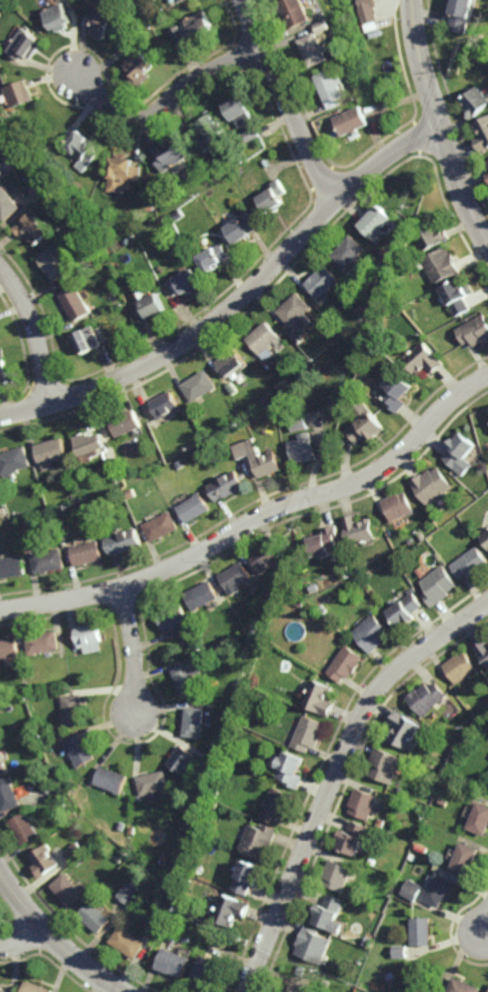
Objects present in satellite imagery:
building: (177, 1)
building: (367, 4)
building: (294, 11)
building: (462, 14)
building: (58, 16)
building: (163, 16)
building: (104, 20)
building: (200, 23)
building: (323, 25)
building: (179, 34)
building: (4, 37)
building: (22, 43)
building: (128, 44)
building: (480, 47)
building: (314, 48)
building: (353, 59)
building: (139, 68)
building: (330, 87)
building: (18, 93)
road: (288, 101)
building: (476, 101)
road: (166, 103)
building: (239, 109)
building: (351, 120)
road: (442, 124)
building: (2, 130)
building: (209, 131)
building: (482, 134)
building: (250, 135)
building: (81, 149)
building: (171, 156)
building: (487, 160)
building: (122, 173)
building: (487, 176)
building: (37, 182)
building: (273, 196)
building: (7, 203)
building: (149, 205)
building: (376, 222)
building: (243, 227)
building: (33, 228)
building: (431, 236)
building: (349, 252)
building: (399, 252)
building: (215, 257)
building: (55, 264)
building: (440, 265)
building: (110, 272)
building: (322, 281)
building: (125, 282)
building: (185, 283)
building: (141, 294)
building: (455, 297)
road: (240, 301)
building: (75, 303)
building: (150, 308)
building: (297, 316)
road: (37, 330)
building: (474, 331)
building: (88, 340)
building: (265, 341)
building: (422, 359)
building: (304, 361)
building: (232, 363)
building: (3, 369)
building: (360, 384)
building: (200, 386)
building: (395, 393)
building: (267, 403)
building: (166, 405)
building: (473, 415)
building: (127, 423)
building: (300, 423)
building: (364, 424)
building: (90, 444)
building: (304, 449)
building: (460, 453)
building: (51, 454)
building: (261, 459)
building: (15, 463)
building: (182, 464)
building: (114, 467)
building: (433, 486)
building: (37, 487)
building: (228, 487)
building: (133, 495)
building: (399, 507)
building: (58, 508)
building: (195, 509)
building: (3, 513)
road: (258, 519)
building: (163, 528)
building: (359, 531)
building: (66, 535)
building: (421, 535)
building: (486, 537)
building: (327, 542)
building: (125, 543)
building: (88, 555)
building: (269, 557)
building: (50, 562)
building: (470, 563)
building: (12, 569)
building: (238, 574)
building: (438, 585)
building: (316, 586)
building: (204, 593)
building: (321, 597)
building: (302, 601)
building: (324, 608)
building: (406, 610)
building: (174, 615)
building: (238, 632)
building: (372, 633)
building: (90, 639)
building: (46, 640)
building: (257, 640)
building: (10, 646)
road: (137, 649)
building: (483, 649)
building: (26, 663)
building: (347, 663)
building: (77, 667)
building: (462, 667)
building: (190, 675)
building: (51, 685)
building: (18, 692)
building: (321, 697)
building: (430, 697)
building: (215, 705)
building: (76, 707)
building: (197, 720)
building: (45, 729)
building: (407, 729)
building: (311, 732)
building: (83, 749)
building: (3, 757)
building: (185, 759)
building: (389, 764)
building: (448, 764)
building: (294, 768)
road: (339, 775)
building: (115, 779)
building: (156, 781)
building: (54, 787)
building: (10, 793)
building: (367, 802)
building: (282, 804)
building: (199, 806)
building: (480, 818)
building: (384, 823)
building: (124, 825)
building: (26, 827)
building: (358, 837)
building: (262, 839)
building: (78, 851)
building: (415, 856)
building: (465, 857)
building: (47, 859)
building: (376, 860)
building: (425, 865)
building: (341, 874)
building: (253, 876)
building: (438, 888)
building: (71, 889)
building: (412, 889)
building: (131, 893)
building: (233, 909)
building: (174, 911)
building: (334, 912)
building: (98, 916)
building: (421, 931)
road: (56, 939)
road: (22, 941)
building: (370, 941)
building: (131, 942)
building: (317, 944)
building: (400, 951)
building: (177, 962)
building: (303, 970)
building: (209, 973)
building: (390, 976)
building: (461, 986)
building: (35, 987)
building: (2, 991)
building: (290, 991)

